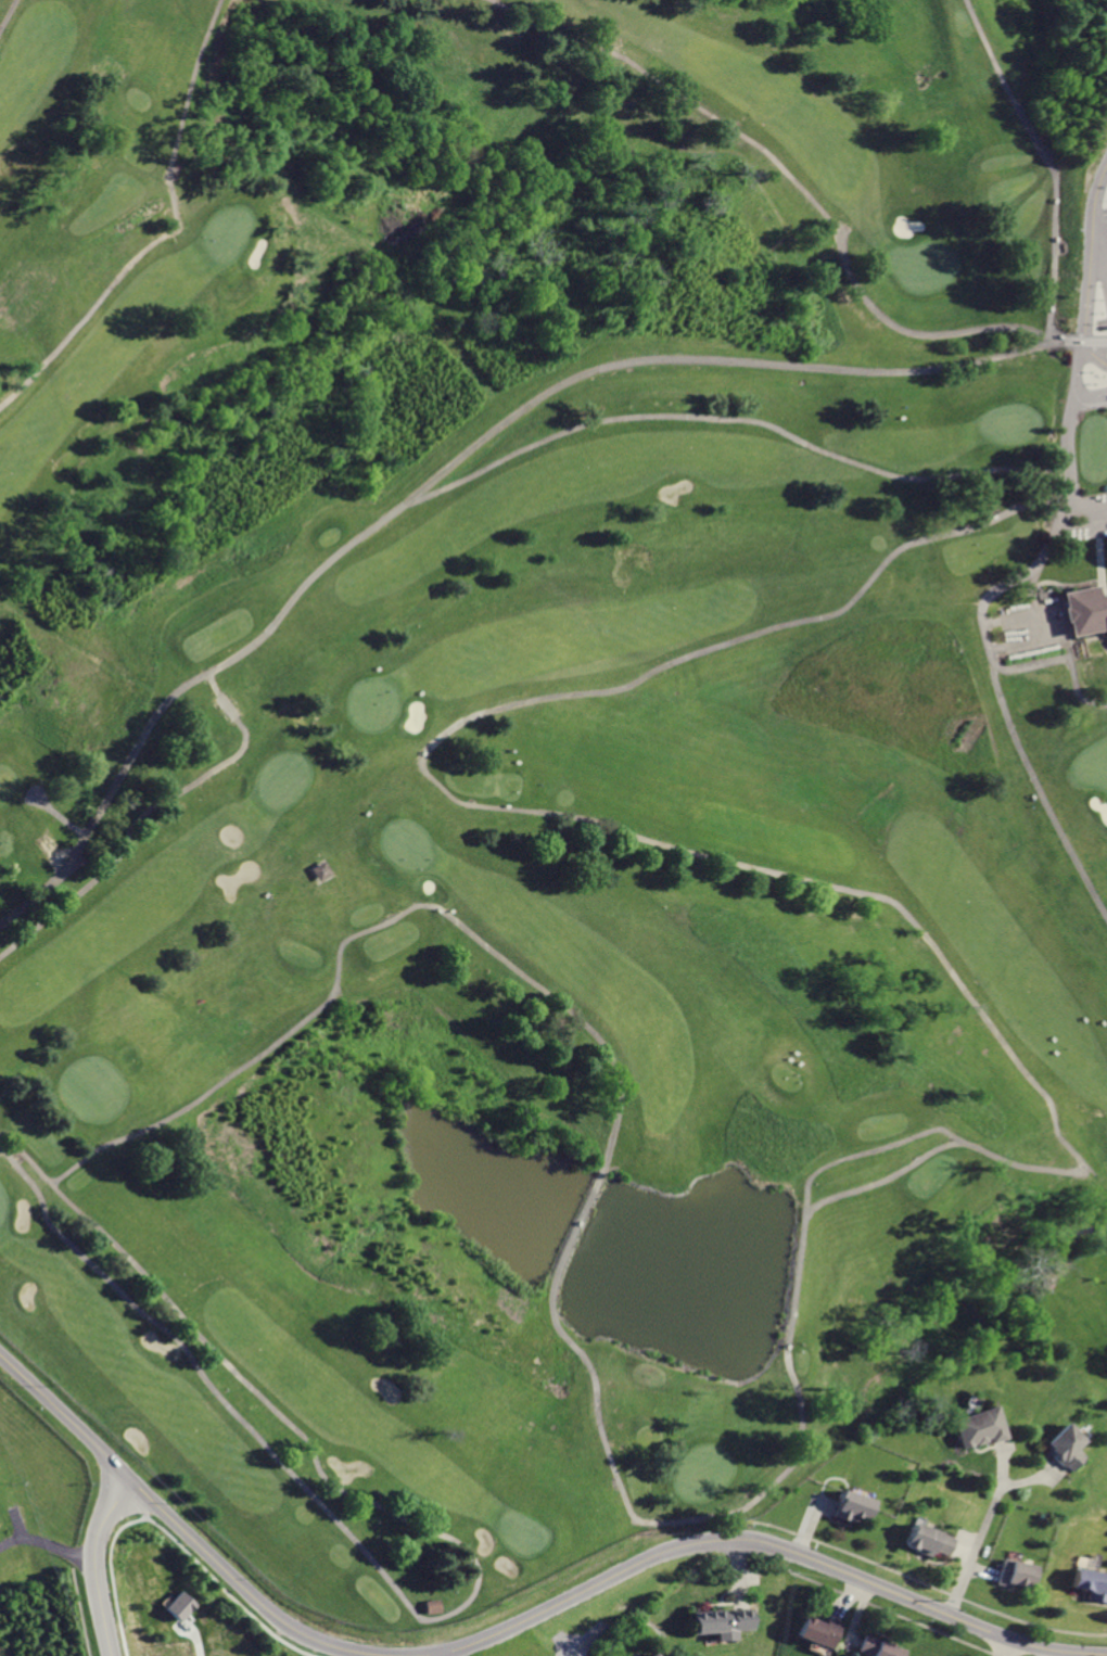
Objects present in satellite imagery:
road: (7, 12)
road: (1053, 165)
road: (801, 187)
road: (1094, 198)
park: (231, 229)
road: (169, 232)
road: (1105, 240)
park: (927, 265)
parking lot: (1095, 296)
road: (734, 421)
park: (1009, 426)
road: (467, 450)
road: (1089, 502)
road: (1065, 515)
road: (1090, 526)
road: (1102, 556)
building: (1087, 612)
road: (1067, 657)
road: (213, 686)
park: (371, 705)
building: (227, 709)
park: (539, 755)
park: (1092, 768)
park: (287, 778)
road: (1042, 789)
road: (59, 814)
road: (129, 836)
road: (46, 841)
park: (408, 842)
building: (322, 870)
park: (92, 1086)
road: (871, 1151)
road: (877, 1184)
park: (3, 1203)
building: (976, 1427)
building: (1065, 1447)
road: (1001, 1457)
road: (1031, 1478)
building: (850, 1506)
road: (179, 1525)
park: (521, 1530)
building: (928, 1540)
road: (765, 1542)
road: (48, 1544)
road: (976, 1546)
road: (962, 1550)
road: (97, 1562)
building: (1086, 1562)
road: (984, 1570)
building: (1014, 1574)
building: (1091, 1582)
building: (182, 1605)
building: (431, 1605)
road: (443, 1616)
building: (722, 1619)
building: (822, 1630)
road: (585, 1641)
road: (1006, 1646)
building: (881, 1648)
crop: (1029, 1649)
road: (1051, 1653)
building: (652, 1654)
road: (442, 1655)

